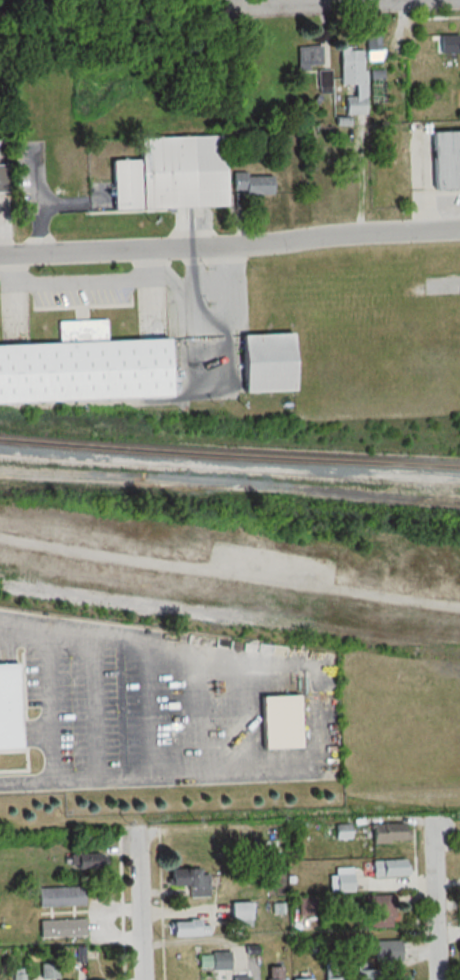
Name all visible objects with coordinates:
road: (293, 1)
building: (437, 49)
building: (316, 64)
building: (354, 79)
building: (449, 167)
building: (4, 178)
building: (185, 181)
building: (252, 184)
road: (229, 239)
building: (79, 330)
building: (274, 372)
building: (88, 381)
railway: (229, 454)
road: (50, 705)
building: (6, 707)
road: (96, 707)
road: (149, 710)
road: (201, 713)
building: (87, 863)
building: (189, 881)
building: (61, 897)
road: (427, 899)
road: (138, 906)
building: (63, 928)
building: (187, 928)

